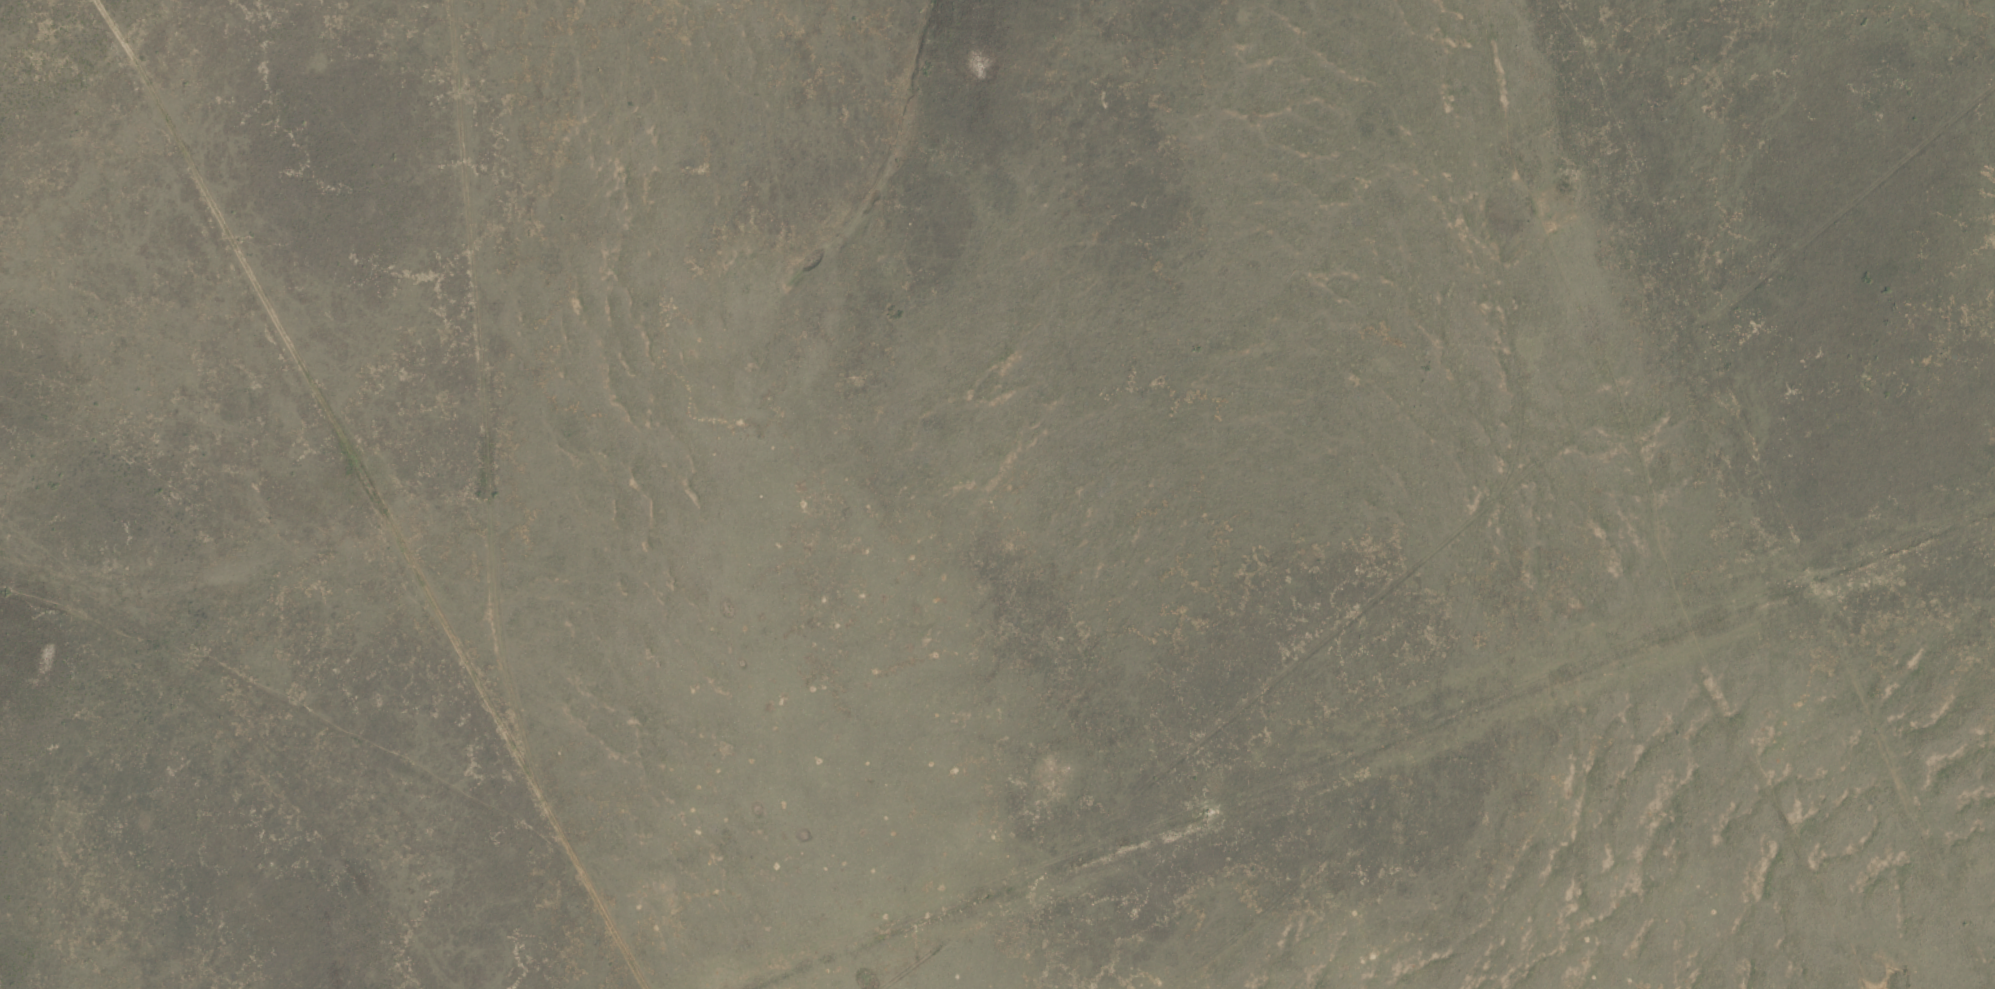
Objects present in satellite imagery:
road: (297, 498)
road: (1441, 539)

